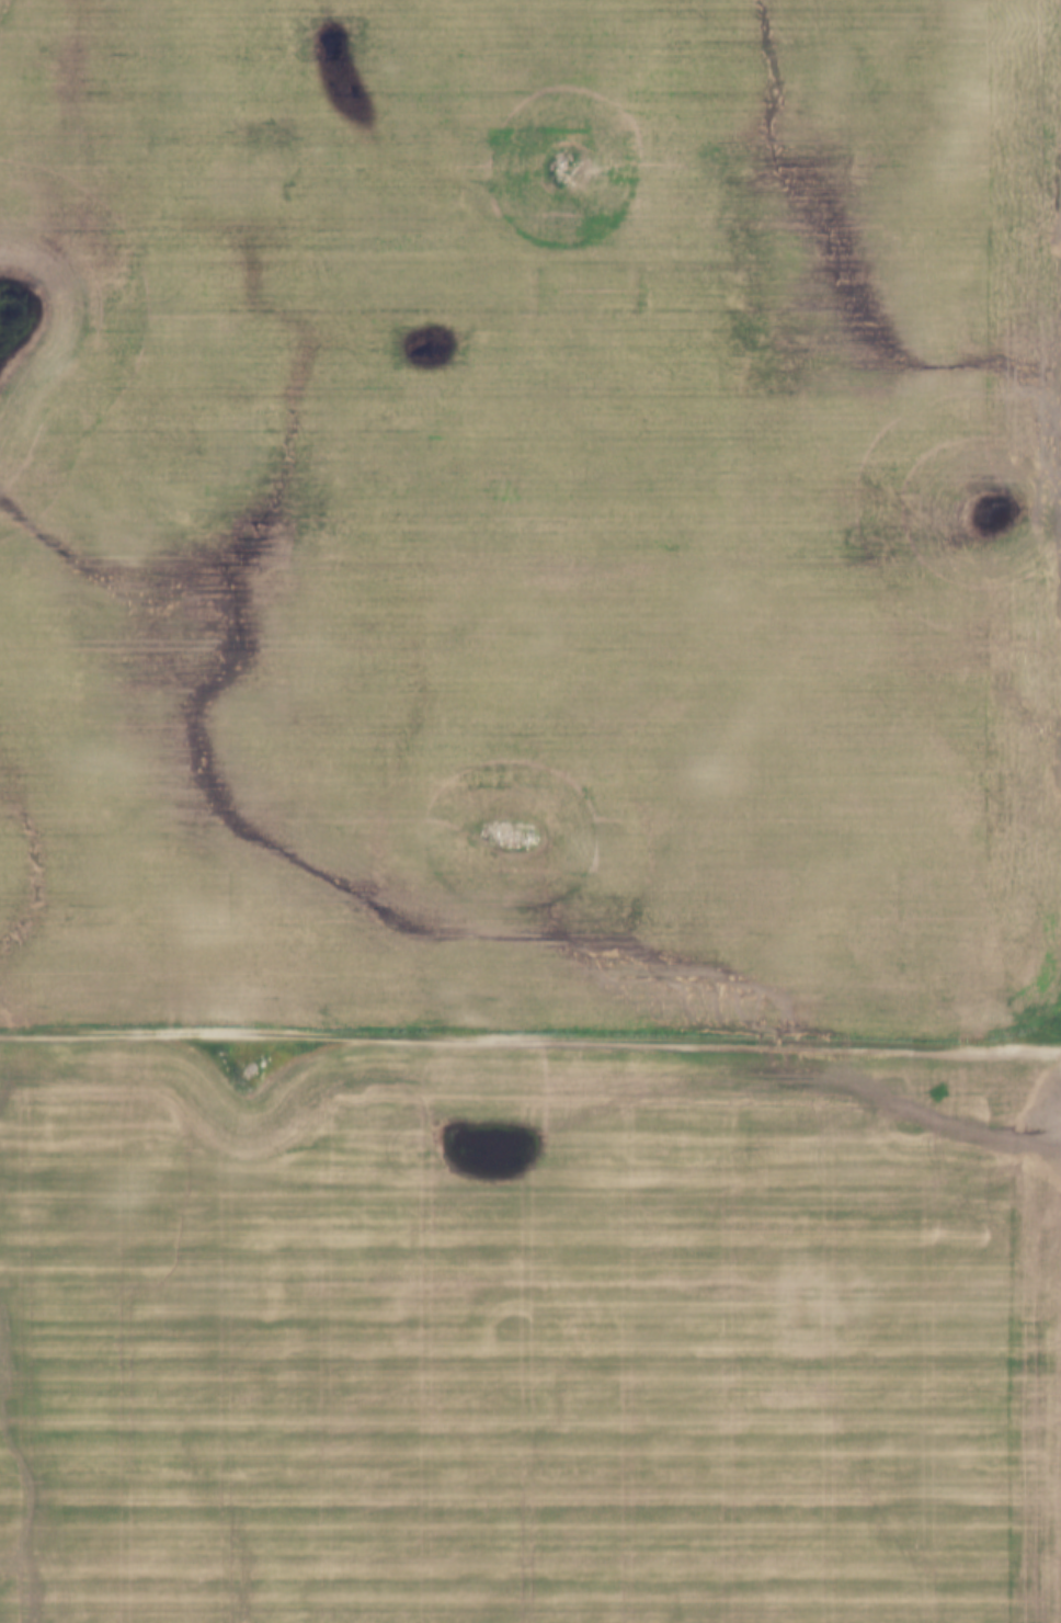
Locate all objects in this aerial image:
road: (530, 1042)

